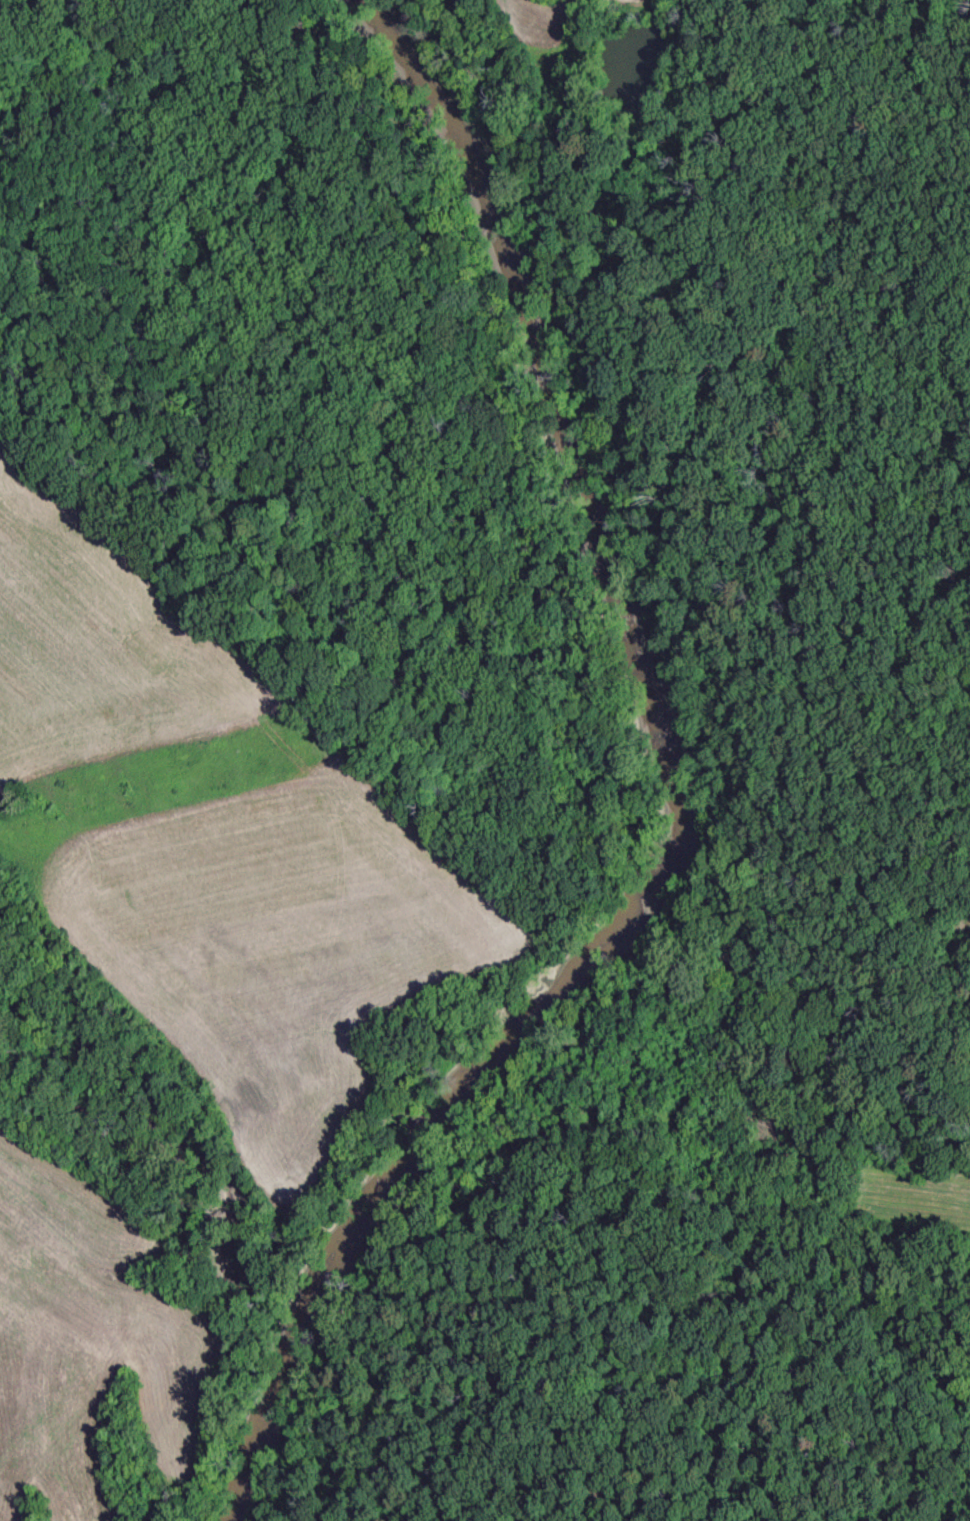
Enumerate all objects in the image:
river: (679, 798)

